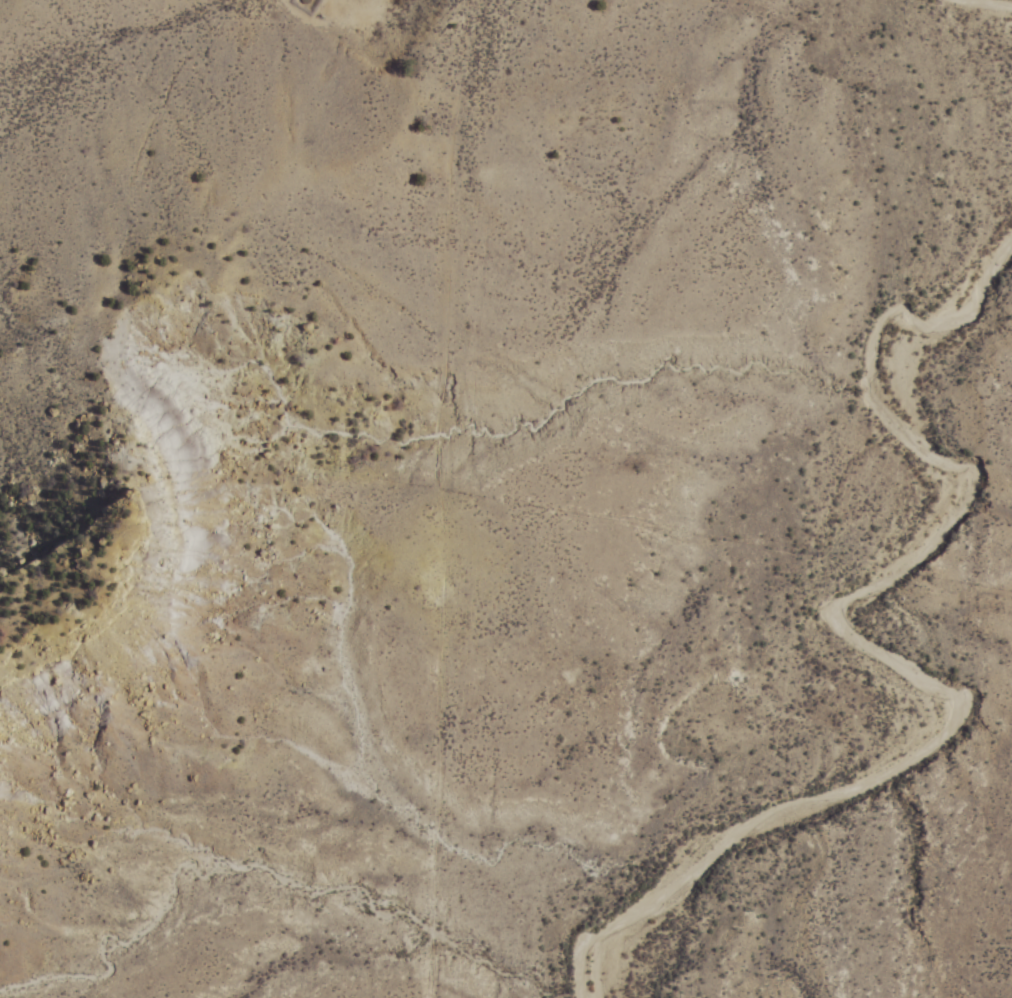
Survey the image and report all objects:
river: (988, 33)
road: (435, 498)
river: (820, 639)

